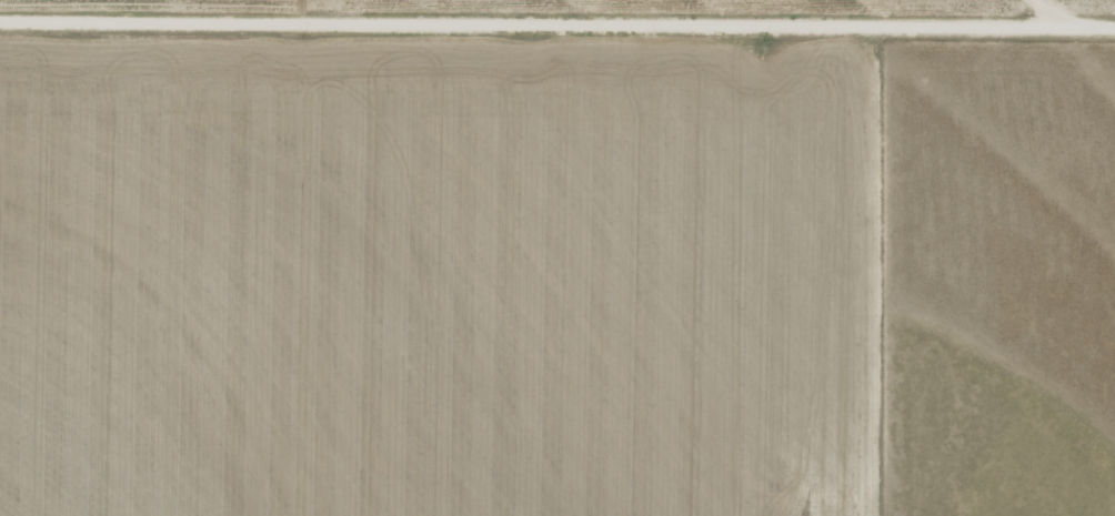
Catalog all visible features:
road: (1083, 19)
road: (556, 33)
road: (908, 149)
road: (914, 388)

